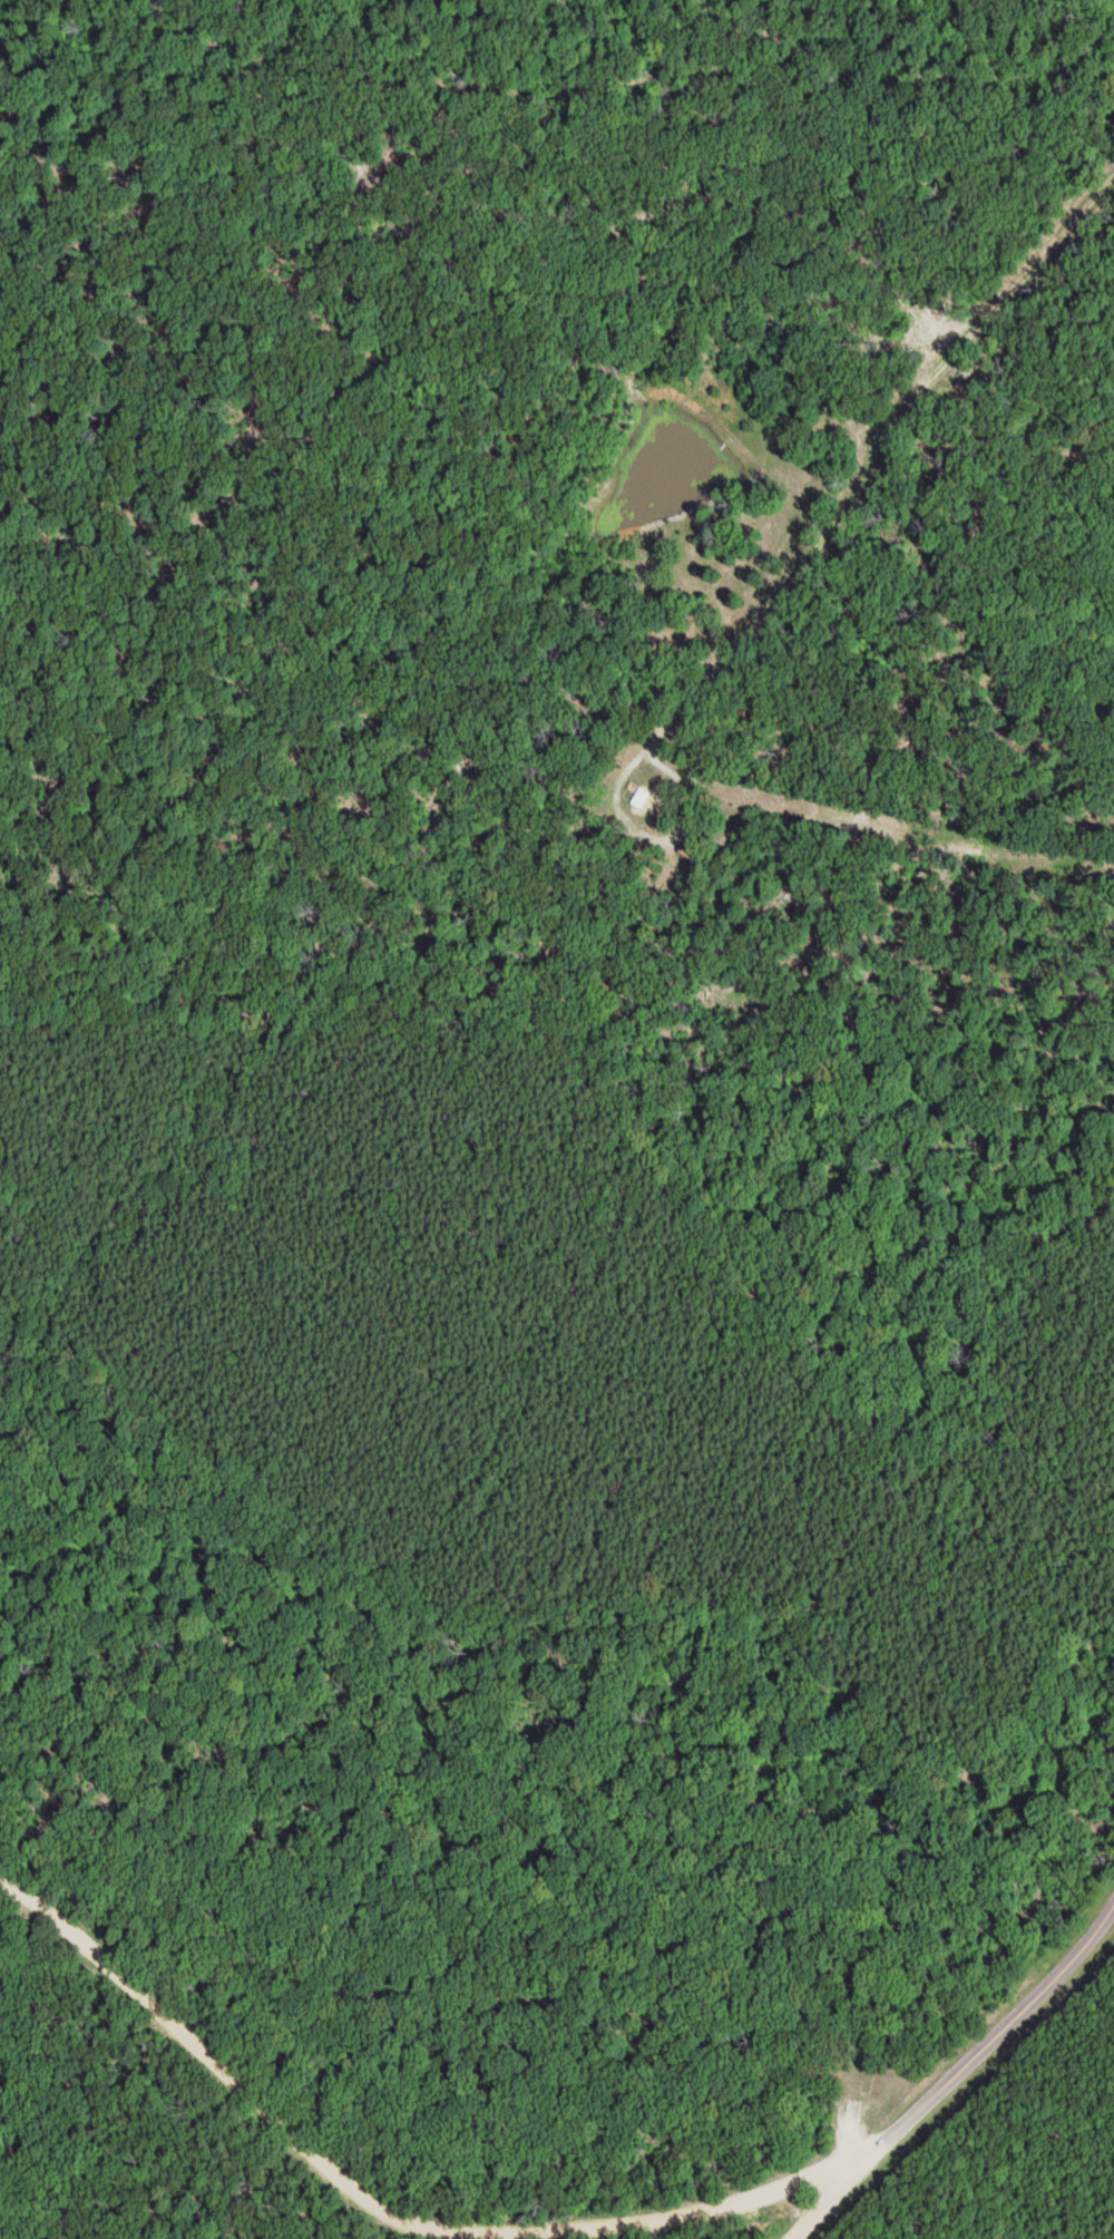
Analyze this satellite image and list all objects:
park: (836, 2063)
road: (971, 2087)
road: (315, 2136)

